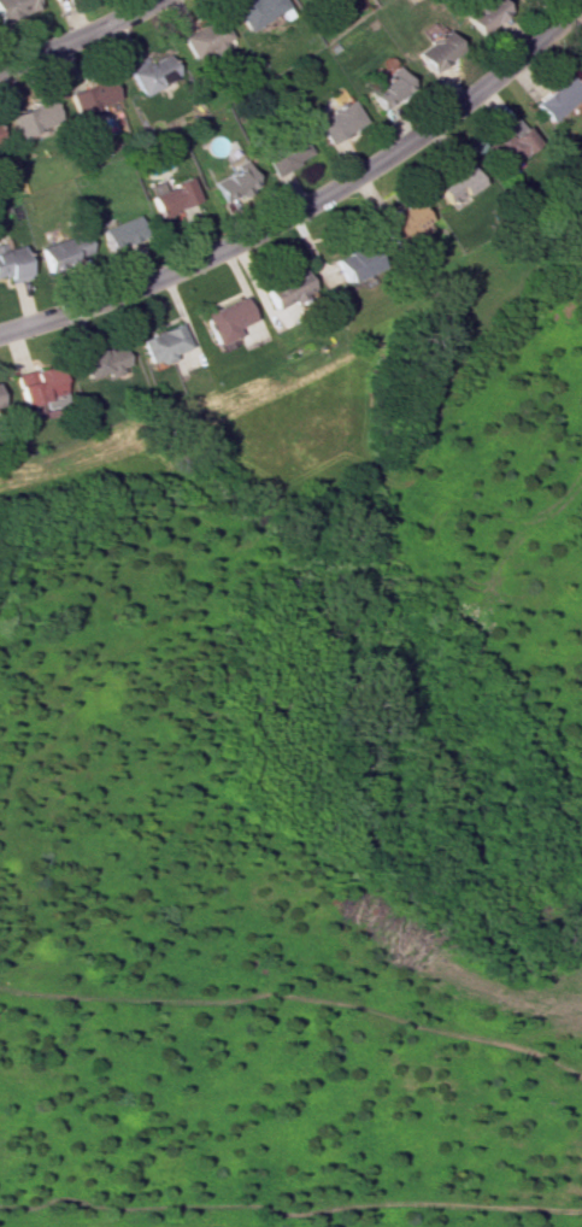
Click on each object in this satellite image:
building: (51, 0)
building: (14, 7)
building: (253, 11)
building: (481, 13)
road: (81, 36)
building: (202, 39)
building: (434, 51)
building: (149, 74)
building: (387, 88)
building: (89, 96)
building: (555, 98)
building: (30, 117)
building: (336, 121)
building: (506, 145)
building: (284, 154)
building: (233, 181)
building: (454, 182)
building: (170, 195)
road: (310, 205)
building: (400, 221)
building: (119, 233)
building: (63, 249)
building: (355, 263)
building: (12, 264)
building: (286, 287)
building: (224, 319)
building: (161, 344)
building: (102, 360)
building: (37, 382)

